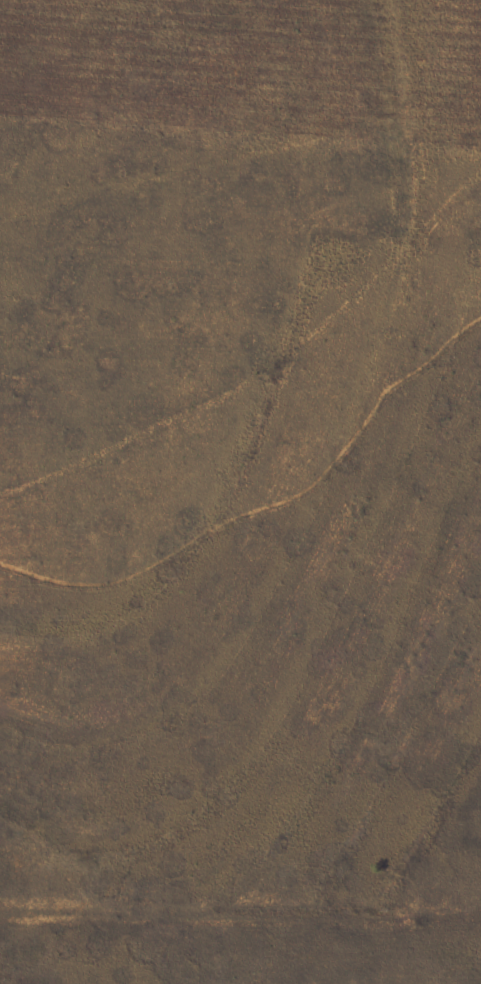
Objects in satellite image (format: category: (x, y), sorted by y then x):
road: (240, 884)

